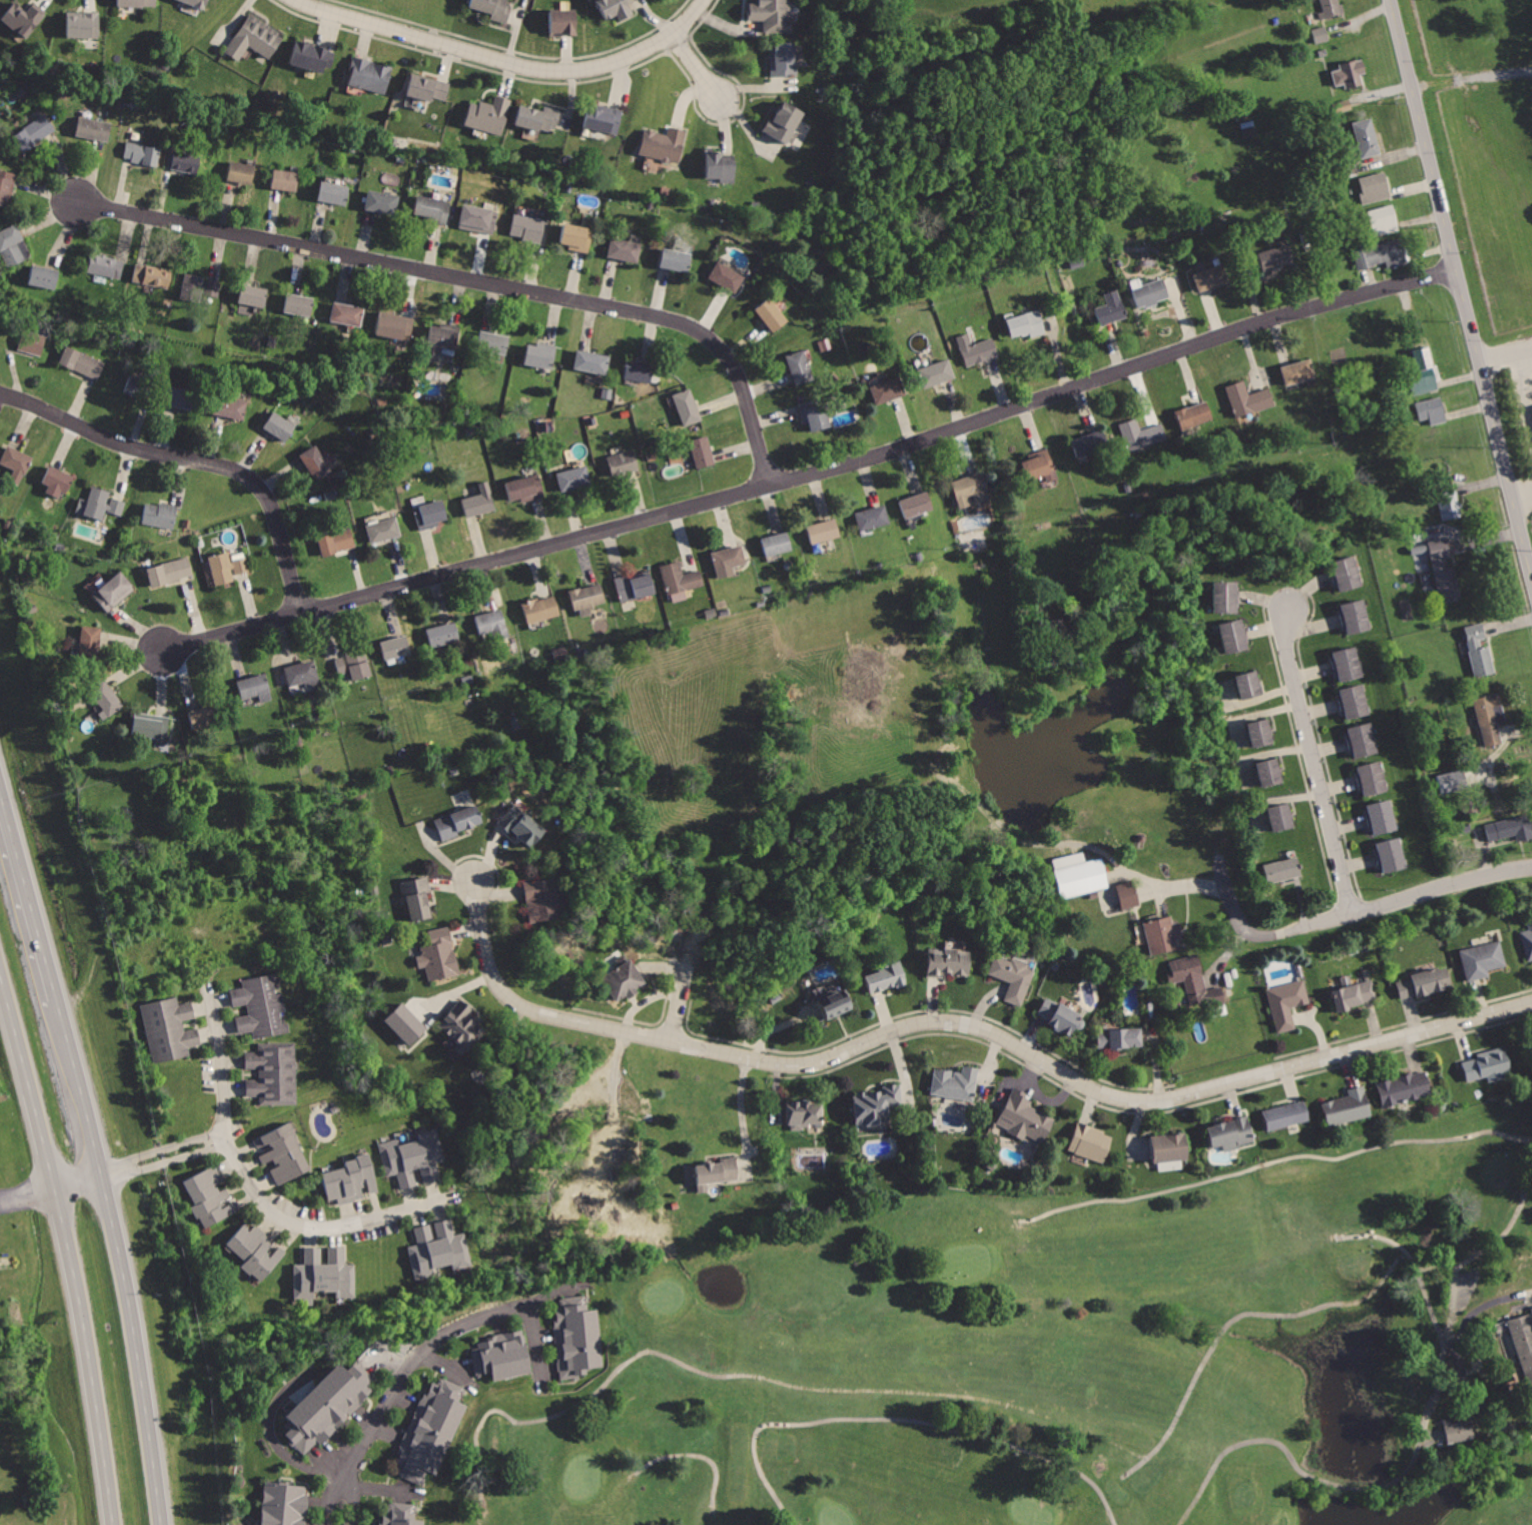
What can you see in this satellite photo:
building: (138, 3)
building: (194, 3)
building: (1332, 7)
building: (616, 8)
building: (492, 9)
building: (772, 15)
building: (23, 19)
building: (563, 20)
building: (83, 26)
building: (255, 37)
building: (1318, 37)
building: (312, 56)
building: (783, 58)
road: (508, 61)
road: (697, 70)
building: (1348, 70)
building: (371, 75)
road: (1471, 78)
building: (426, 86)
building: (1342, 102)
building: (489, 114)
building: (539, 116)
building: (604, 117)
building: (782, 122)
building: (95, 127)
building: (34, 132)
building: (1367, 135)
building: (664, 143)
building: (141, 152)
building: (185, 161)
building: (719, 166)
building: (241, 171)
building: (286, 180)
building: (6, 185)
building: (1375, 185)
building: (334, 192)
building: (383, 201)
building: (432, 209)
building: (1383, 218)
building: (481, 219)
building: (528, 230)
building: (576, 237)
building: (12, 246)
building: (624, 250)
building: (1384, 254)
building: (1275, 256)
building: (677, 261)
building: (107, 264)
building: (153, 274)
building: (44, 276)
building: (1210, 278)
road: (476, 279)
building: (726, 279)
road: (1460, 285)
building: (201, 287)
building: (1151, 293)
building: (252, 296)
building: (300, 306)
building: (1111, 308)
building: (348, 313)
building: (773, 314)
building: (1028, 324)
building: (395, 327)
building: (438, 341)
building: (32, 342)
building: (493, 342)
building: (977, 347)
building: (542, 357)
building: (83, 363)
building: (592, 364)
building: (800, 367)
building: (640, 371)
building: (939, 373)
building: (1299, 373)
building: (1423, 375)
road: (1516, 382)
building: (141, 387)
building: (889, 391)
building: (182, 397)
building: (1249, 398)
building: (687, 406)
building: (231, 407)
building: (1433, 410)
building: (1531, 411)
building: (815, 415)
building: (1195, 415)
building: (280, 425)
building: (1143, 436)
building: (1091, 443)
building: (703, 452)
road: (195, 459)
building: (315, 462)
building: (17, 463)
building: (625, 463)
building: (1038, 465)
road: (815, 473)
building: (573, 477)
building: (56, 482)
building: (527, 489)
building: (974, 489)
road: (1522, 493)
building: (481, 500)
building: (916, 503)
building: (1452, 503)
building: (103, 504)
building: (163, 515)
building: (430, 515)
building: (872, 517)
building: (384, 530)
building: (823, 531)
building: (336, 542)
building: (777, 543)
building: (729, 558)
building: (227, 568)
building: (169, 570)
building: (1445, 572)
building: (1346, 573)
building: (680, 578)
building: (633, 587)
building: (114, 592)
building: (587, 596)
building: (1226, 597)
building: (541, 609)
building: (1355, 616)
building: (494, 623)
building: (445, 633)
building: (1234, 635)
building: (90, 642)
building: (397, 647)
building: (1478, 652)
building: (1345, 662)
building: (353, 663)
building: (302, 674)
building: (1249, 682)
building: (253, 687)
building: (106, 694)
building: (1353, 701)
building: (203, 717)
building: (1486, 719)
building: (155, 727)
building: (1260, 731)
building: (1363, 738)
road: (1316, 766)
building: (1268, 771)
building: (1372, 777)
building: (1451, 780)
building: (1381, 814)
building: (1282, 816)
building: (458, 820)
building: (522, 824)
building: (1508, 826)
building: (1390, 852)
building: (1281, 868)
building: (1078, 874)
road: (1182, 884)
road: (30, 887)
building: (1128, 894)
building: (417, 895)
building: (542, 899)
road: (1356, 914)
building: (1162, 935)
building: (1527, 940)
building: (439, 952)
road: (1226, 954)
building: (1481, 960)
building: (947, 962)
building: (886, 976)
building: (1015, 977)
building: (622, 979)
building: (1423, 981)
building: (1198, 983)
building: (1353, 992)
building: (1286, 1001)
road: (680, 1002)
building: (835, 1002)
building: (262, 1006)
building: (1060, 1014)
building: (403, 1023)
road: (968, 1023)
building: (170, 1027)
building: (462, 1027)
building: (1120, 1036)
building: (1486, 1066)
building: (272, 1072)
building: (956, 1084)
building: (1404, 1087)
building: (875, 1105)
building: (1345, 1107)
road: (740, 1112)
building: (805, 1113)
building: (1285, 1113)
building: (1023, 1118)
building: (1229, 1132)
building: (1090, 1142)
building: (1170, 1146)
road: (161, 1149)
building: (282, 1153)
building: (414, 1159)
road: (166, 1162)
road: (1278, 1162)
park: (1498, 1170)
building: (716, 1171)
road: (81, 1181)
building: (351, 1181)
road: (29, 1192)
road: (256, 1193)
building: (211, 1196)
road: (1507, 1229)
road: (1382, 1236)
road: (68, 1243)
building: (439, 1248)
building: (254, 1250)
road: (120, 1259)
park: (970, 1261)
road: (1438, 1264)
building: (326, 1272)
road: (1251, 1314)
road: (449, 1336)
building: (577, 1339)
building: (1522, 1343)
park: (1054, 1355)
building: (500, 1357)
road: (1443, 1357)
road: (763, 1378)
building: (325, 1404)
road: (903, 1418)
building: (427, 1430)
building: (1458, 1430)
building: (50, 1438)
road: (1477, 1444)
road: (276, 1445)
road: (1288, 1451)
road: (694, 1455)
road: (1135, 1467)
park: (584, 1477)
road: (332, 1480)
road: (358, 1484)
building: (286, 1502)
park: (1036, 1504)
park: (834, 1513)
building: (399, 1518)

